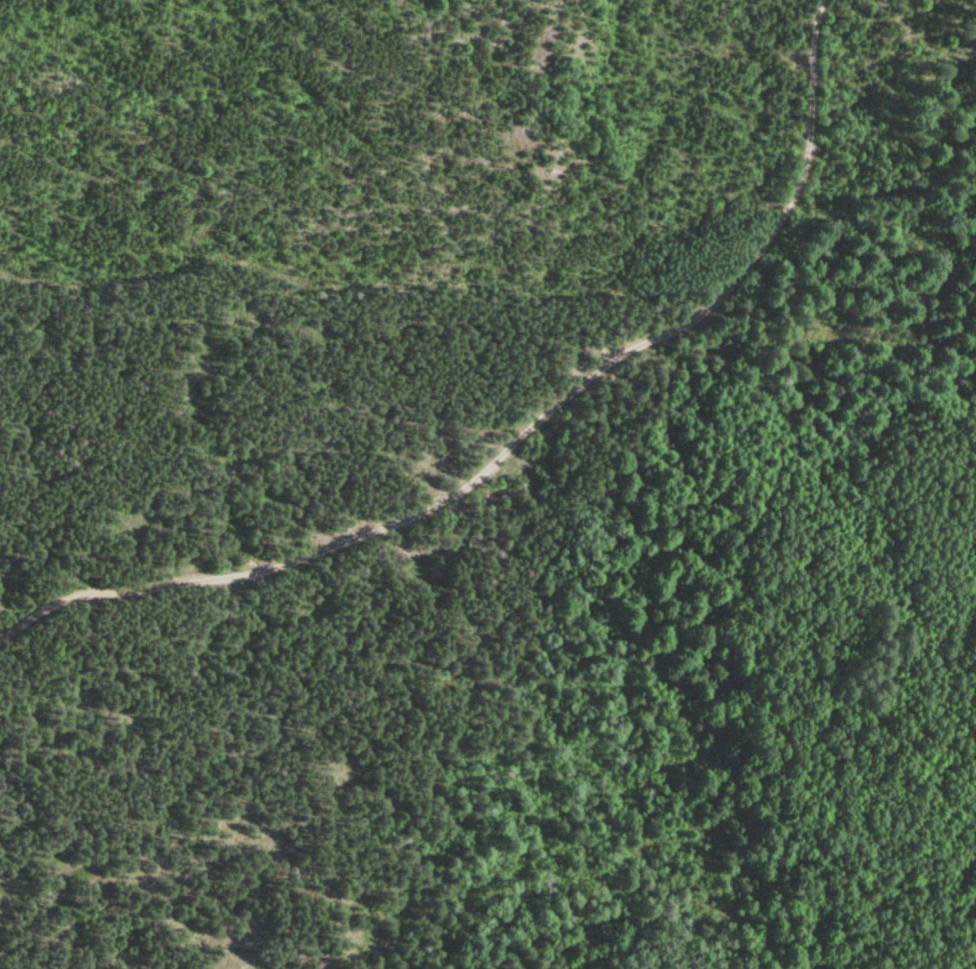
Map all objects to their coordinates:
road: (521, 436)

